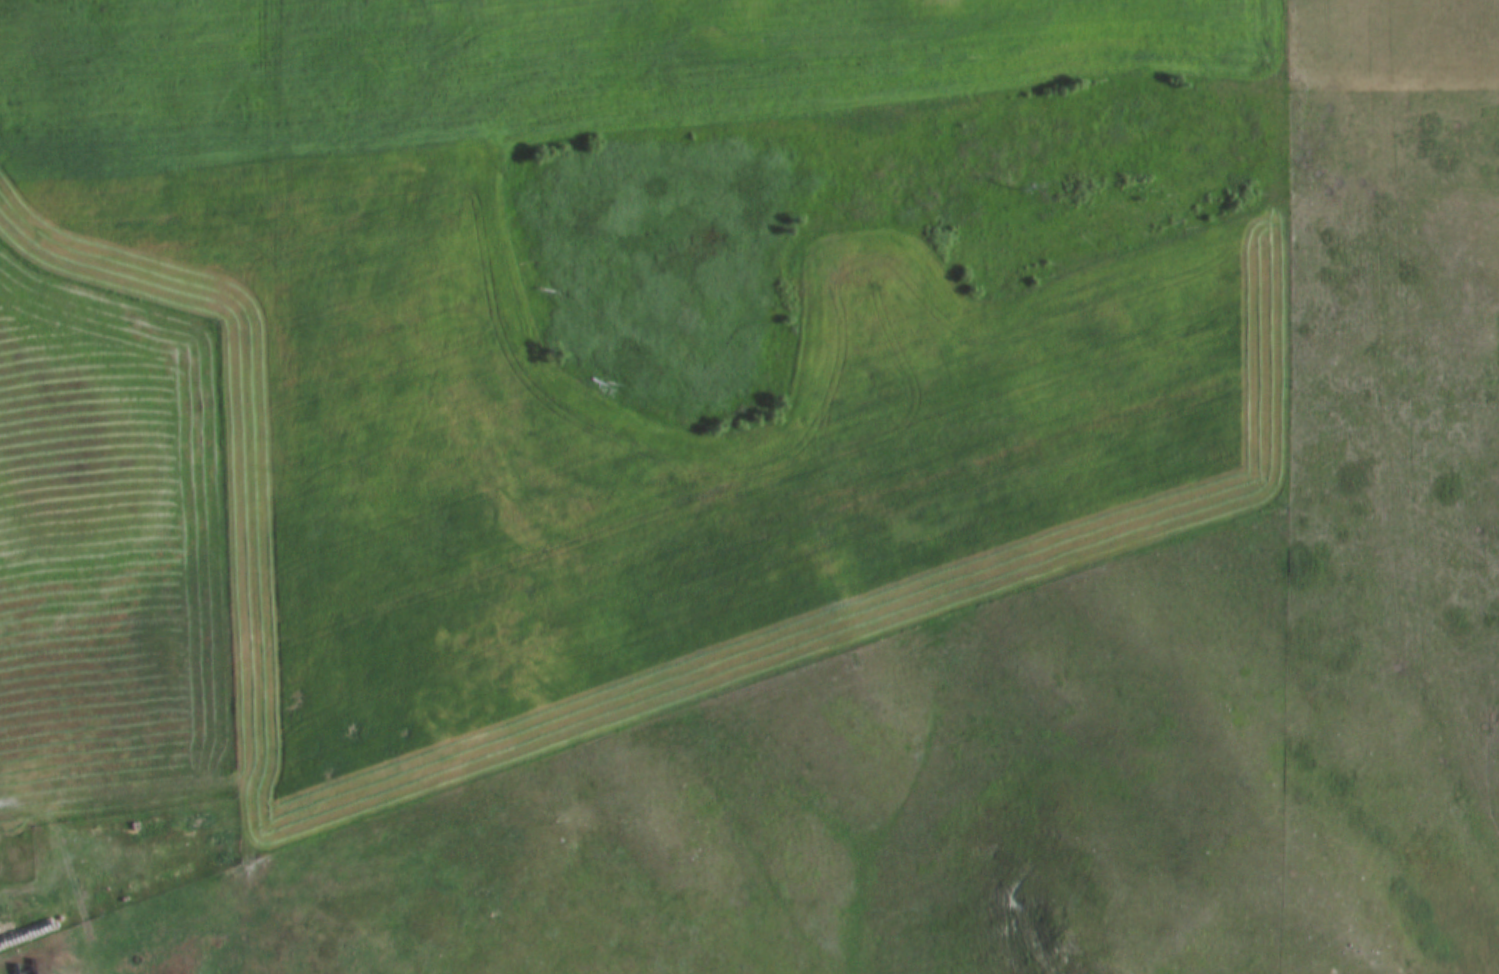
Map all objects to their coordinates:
road: (6, 803)

